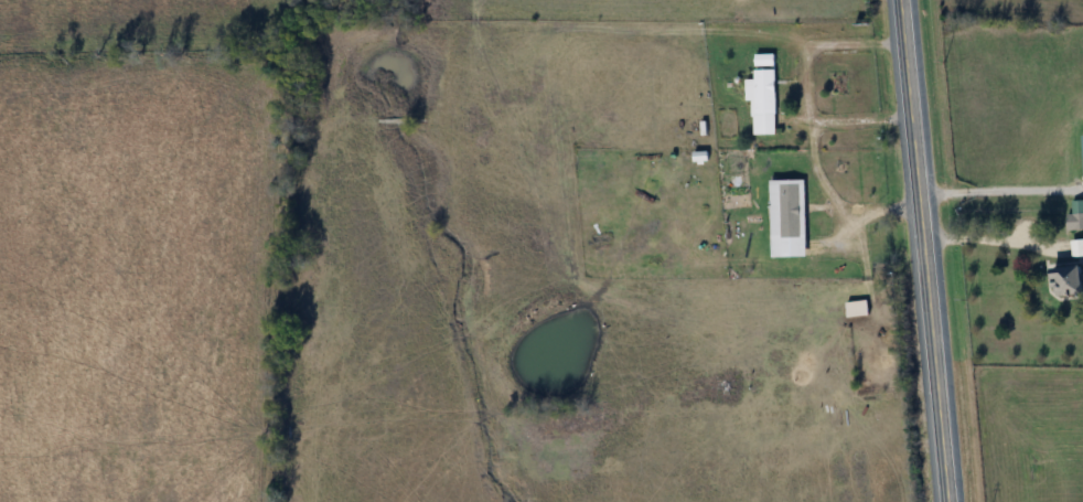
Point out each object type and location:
building: (765, 60)
building: (765, 102)
road: (1000, 188)
building: (1075, 222)
building: (1077, 247)
road: (924, 250)
building: (1070, 279)
building: (858, 308)

